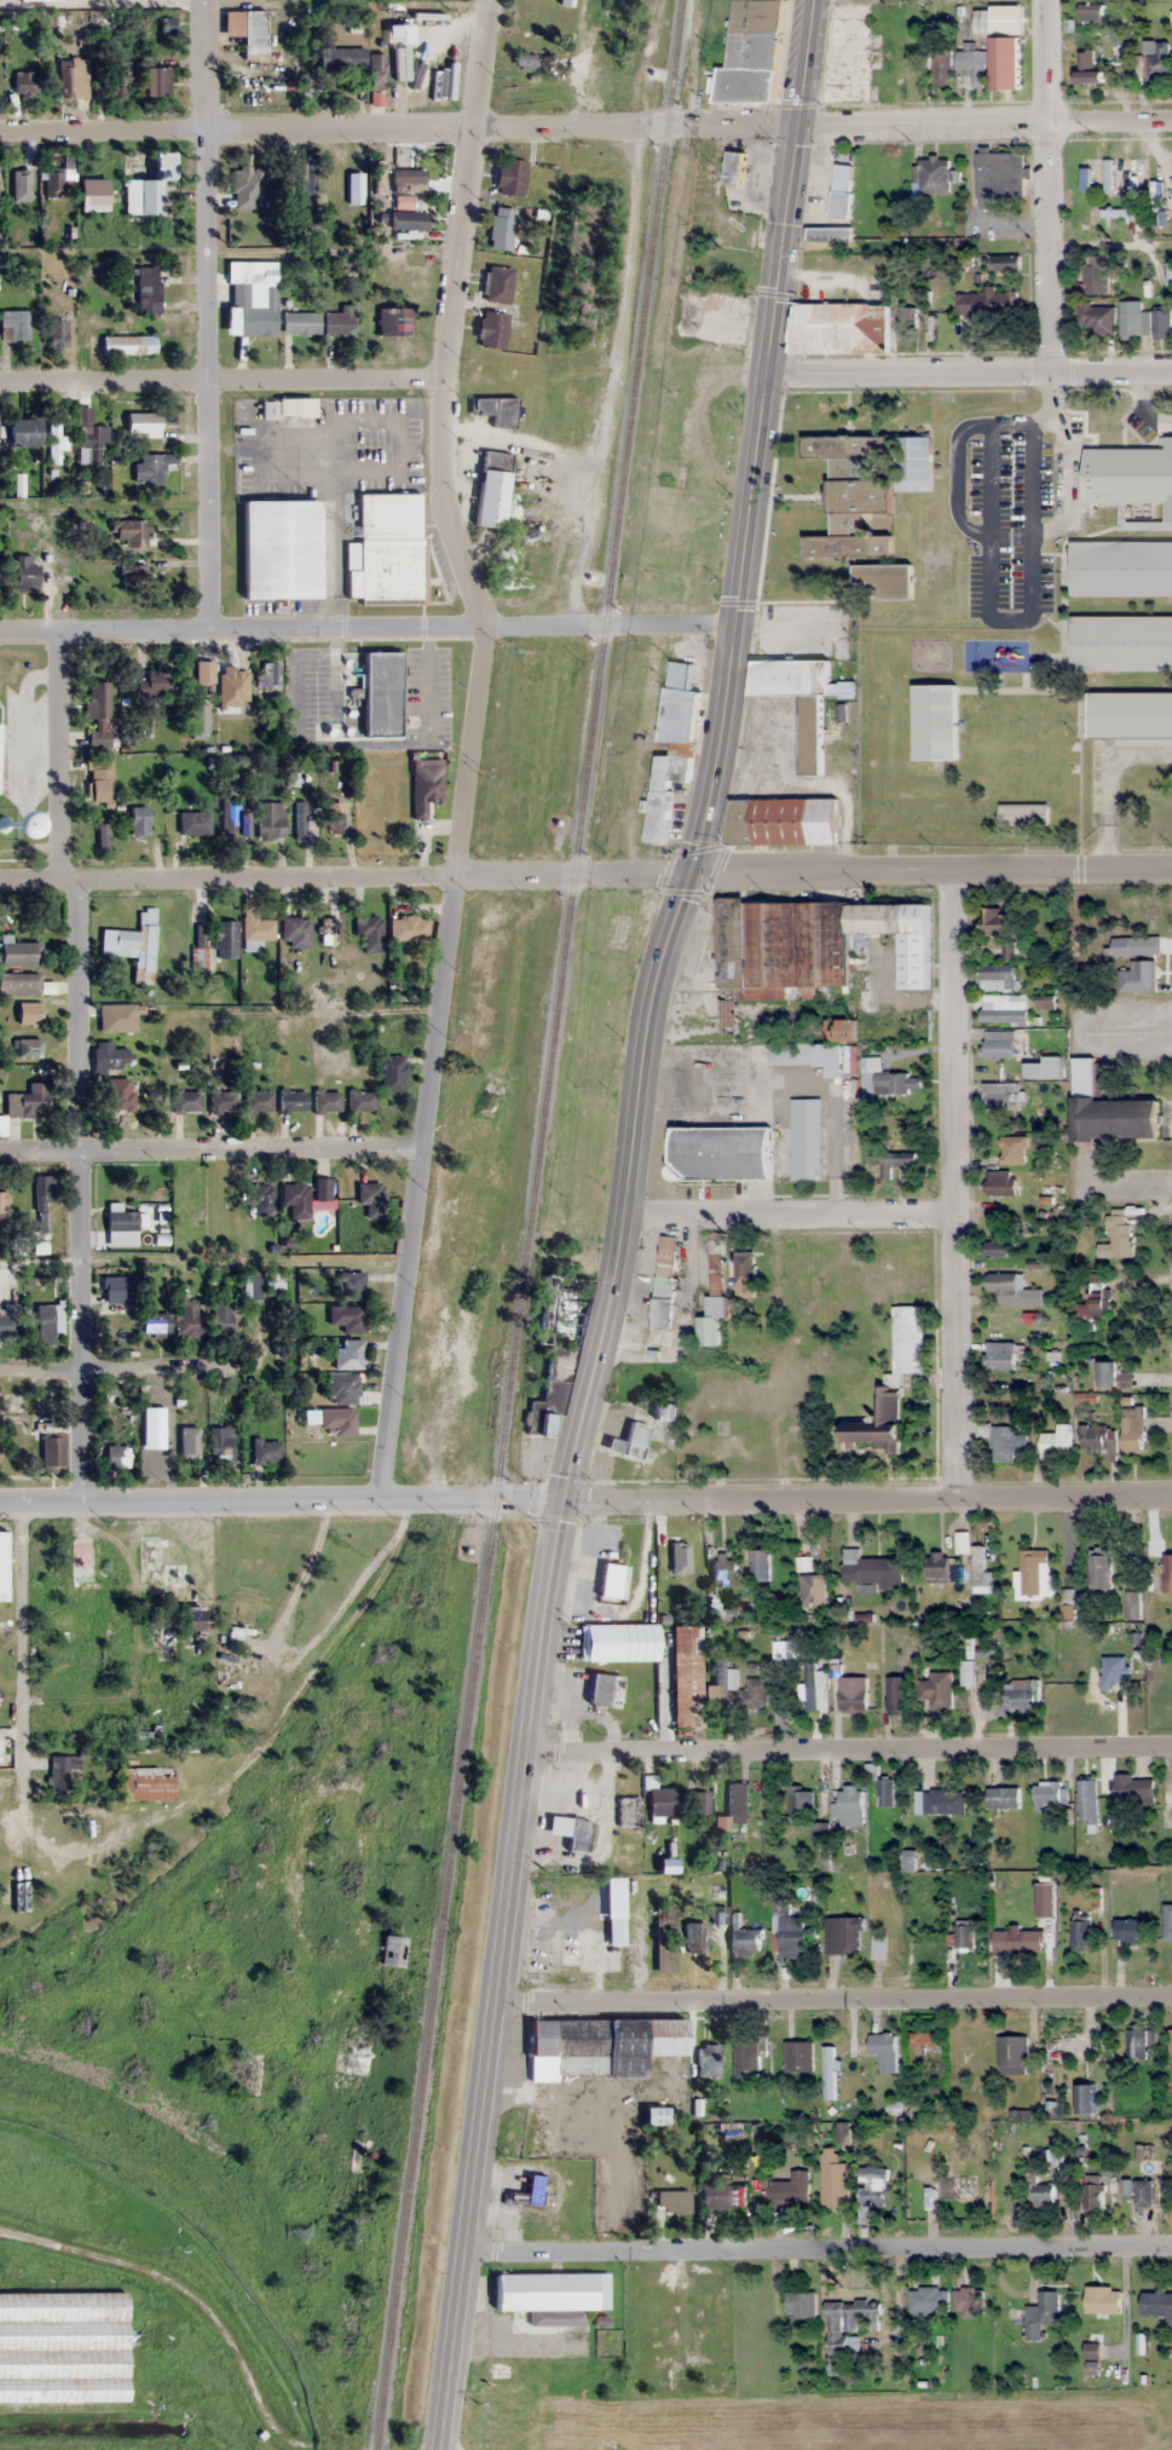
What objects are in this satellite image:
building: (566, 1)
building: (1093, 16)
building: (1125, 18)
building: (980, 27)
building: (247, 30)
building: (1005, 46)
building: (847, 52)
building: (751, 53)
building: (341, 58)
building: (524, 59)
building: (1156, 60)
building: (972, 65)
building: (906, 67)
building: (941, 67)
building: (375, 68)
building: (1087, 68)
building: (65, 77)
building: (116, 79)
building: (155, 80)
building: (25, 81)
building: (310, 82)
road: (985, 122)
road: (399, 126)
traffic signals: (798, 127)
building: (733, 167)
building: (307, 173)
building: (931, 173)
building: (1000, 175)
building: (509, 177)
building: (408, 178)
building: (21, 183)
building: (54, 183)
building: (148, 183)
road: (1046, 185)
building: (247, 186)
building: (837, 194)
building: (1084, 217)
building: (408, 219)
building: (501, 226)
building: (829, 232)
building: (709, 249)
building: (1004, 263)
building: (1096, 275)
building: (497, 283)
building: (148, 289)
building: (982, 302)
building: (253, 311)
road: (207, 312)
building: (1097, 317)
building: (907, 318)
building: (1143, 319)
building: (340, 321)
building: (394, 321)
building: (300, 322)
building: (711, 322)
building: (13, 324)
building: (839, 328)
building: (491, 329)
building: (56, 333)
building: (127, 344)
road: (968, 371)
road: (223, 381)
building: (287, 407)
building: (495, 409)
building: (140, 422)
building: (22, 431)
building: (90, 438)
building: (56, 443)
building: (149, 468)
building: (865, 488)
building: (491, 489)
building: (1126, 525)
building: (129, 530)
road: (999, 534)
building: (386, 549)
building: (278, 554)
building: (25, 572)
building: (129, 573)
building: (885, 580)
road: (1009, 621)
road: (420, 626)
building: (1121, 644)
building: (265, 675)
building: (155, 681)
building: (381, 693)
building: (801, 699)
building: (679, 705)
building: (98, 714)
building: (1130, 715)
building: (198, 717)
building: (935, 722)
road: (469, 749)
road: (58, 754)
building: (100, 782)
building: (426, 791)
building: (664, 791)
building: (1023, 814)
building: (233, 819)
building: (270, 819)
building: (334, 819)
building: (138, 820)
building: (305, 820)
building: (195, 822)
building: (781, 822)
water tower: (1, 824)
traffic signals: (691, 871)
road: (813, 872)
road: (227, 876)
building: (993, 923)
building: (408, 927)
building: (256, 928)
building: (329, 929)
building: (296, 930)
building: (369, 932)
building: (200, 934)
building: (225, 938)
building: (175, 941)
building: (133, 944)
building: (810, 946)
building: (19, 953)
building: (998, 976)
building: (1136, 976)
building: (19, 982)
building: (30, 1013)
building: (1004, 1013)
building: (116, 1016)
building: (839, 1030)
building: (1004, 1044)
building: (792, 1054)
building: (109, 1056)
building: (392, 1072)
building: (887, 1080)
building: (1000, 1096)
building: (120, 1100)
building: (223, 1100)
building: (291, 1100)
building: (186, 1101)
building: (258, 1101)
building: (325, 1101)
building: (360, 1101)
building: (25, 1102)
building: (1107, 1109)
building: (806, 1138)
road: (210, 1151)
building: (1011, 1152)
building: (721, 1154)
building: (893, 1161)
building: (1000, 1182)
road: (953, 1187)
building: (189, 1188)
building: (322, 1189)
road: (80, 1192)
building: (260, 1198)
building: (370, 1199)
building: (295, 1200)
building: (4, 1203)
building: (39, 1205)
road: (789, 1221)
building: (226, 1223)
road: (622, 1223)
railway: (530, 1224)
building: (120, 1226)
building: (1118, 1236)
building: (999, 1249)
building: (740, 1270)
building: (275, 1282)
building: (664, 1282)
building: (351, 1285)
building: (253, 1286)
building: (115, 1289)
building: (1012, 1290)
building: (1092, 1304)
building: (346, 1318)
building: (8, 1319)
building: (223, 1319)
building: (189, 1320)
building: (155, 1322)
building: (44, 1324)
building: (711, 1324)
building: (908, 1339)
building: (555, 1353)
building: (348, 1354)
building: (999, 1355)
road: (126, 1373)
building: (1107, 1374)
building: (342, 1388)
building: (337, 1420)
building: (878, 1422)
building: (1132, 1429)
building: (1097, 1439)
building: (628, 1442)
building: (1006, 1443)
building: (220, 1445)
building: (1049, 1446)
building: (184, 1449)
building: (265, 1451)
building: (52, 1452)
building: (152, 1453)
building: (116, 1457)
road: (795, 1500)
traffic signals: (567, 1503)
road: (209, 1504)
building: (81, 1560)
building: (2, 1563)
building: (158, 1564)
building: (936, 1566)
building: (1166, 1566)
building: (760, 1567)
building: (871, 1568)
building: (983, 1569)
building: (1098, 1570)
building: (723, 1572)
building: (1034, 1573)
building: (612, 1581)
building: (812, 1589)
building: (1132, 1604)
building: (721, 1613)
building: (191, 1620)
building: (167, 1639)
building: (618, 1642)
road: (24, 1651)
building: (784, 1659)
building: (685, 1677)
building: (721, 1682)
building: (814, 1688)
building: (597, 1689)
building: (936, 1689)
building: (755, 1694)
building: (896, 1695)
building: (851, 1700)
building: (1012, 1701)
road: (850, 1748)
building: (64, 1774)
building: (148, 1783)
building: (879, 1789)
building: (1137, 1791)
building: (1050, 1793)
building: (1003, 1798)
building: (660, 1802)
building: (697, 1802)
building: (943, 1802)
building: (1087, 1802)
building: (738, 1803)
building: (801, 1803)
building: (849, 1805)
building: (1167, 1808)
building: (628, 1811)
building: (570, 1832)
building: (10, 1890)
building: (789, 1929)
building: (1130, 1930)
building: (1079, 1933)
building: (843, 1935)
building: (664, 1937)
building: (694, 1937)
building: (963, 1937)
building: (745, 1941)
building: (1017, 1942)
building: (878, 1947)
road: (642, 1948)
building: (392, 1949)
building: (585, 1950)
road: (833, 2000)
building: (925, 2042)
building: (1170, 2042)
building: (832, 2043)
building: (1138, 2043)
building: (600, 2045)
building: (884, 2051)
building: (964, 2051)
building: (746, 2054)
building: (1012, 2056)
building: (798, 2057)
building: (708, 2059)
building: (1085, 2099)
building: (842, 2132)
building: (833, 2177)
building: (872, 2186)
building: (940, 2187)
building: (790, 2191)
building: (1040, 2191)
building: (1144, 2192)
building: (723, 2195)
building: (1093, 2197)
building: (672, 2202)
railway: (226, 2219)
road: (816, 2248)
building: (550, 2290)
building: (1102, 2299)
building: (929, 2300)
building: (968, 2302)
building: (1156, 2304)
building: (801, 2305)
road: (207, 2313)
building: (1041, 2314)
building: (848, 2321)
building: (62, 2346)
building: (688, 2445)

